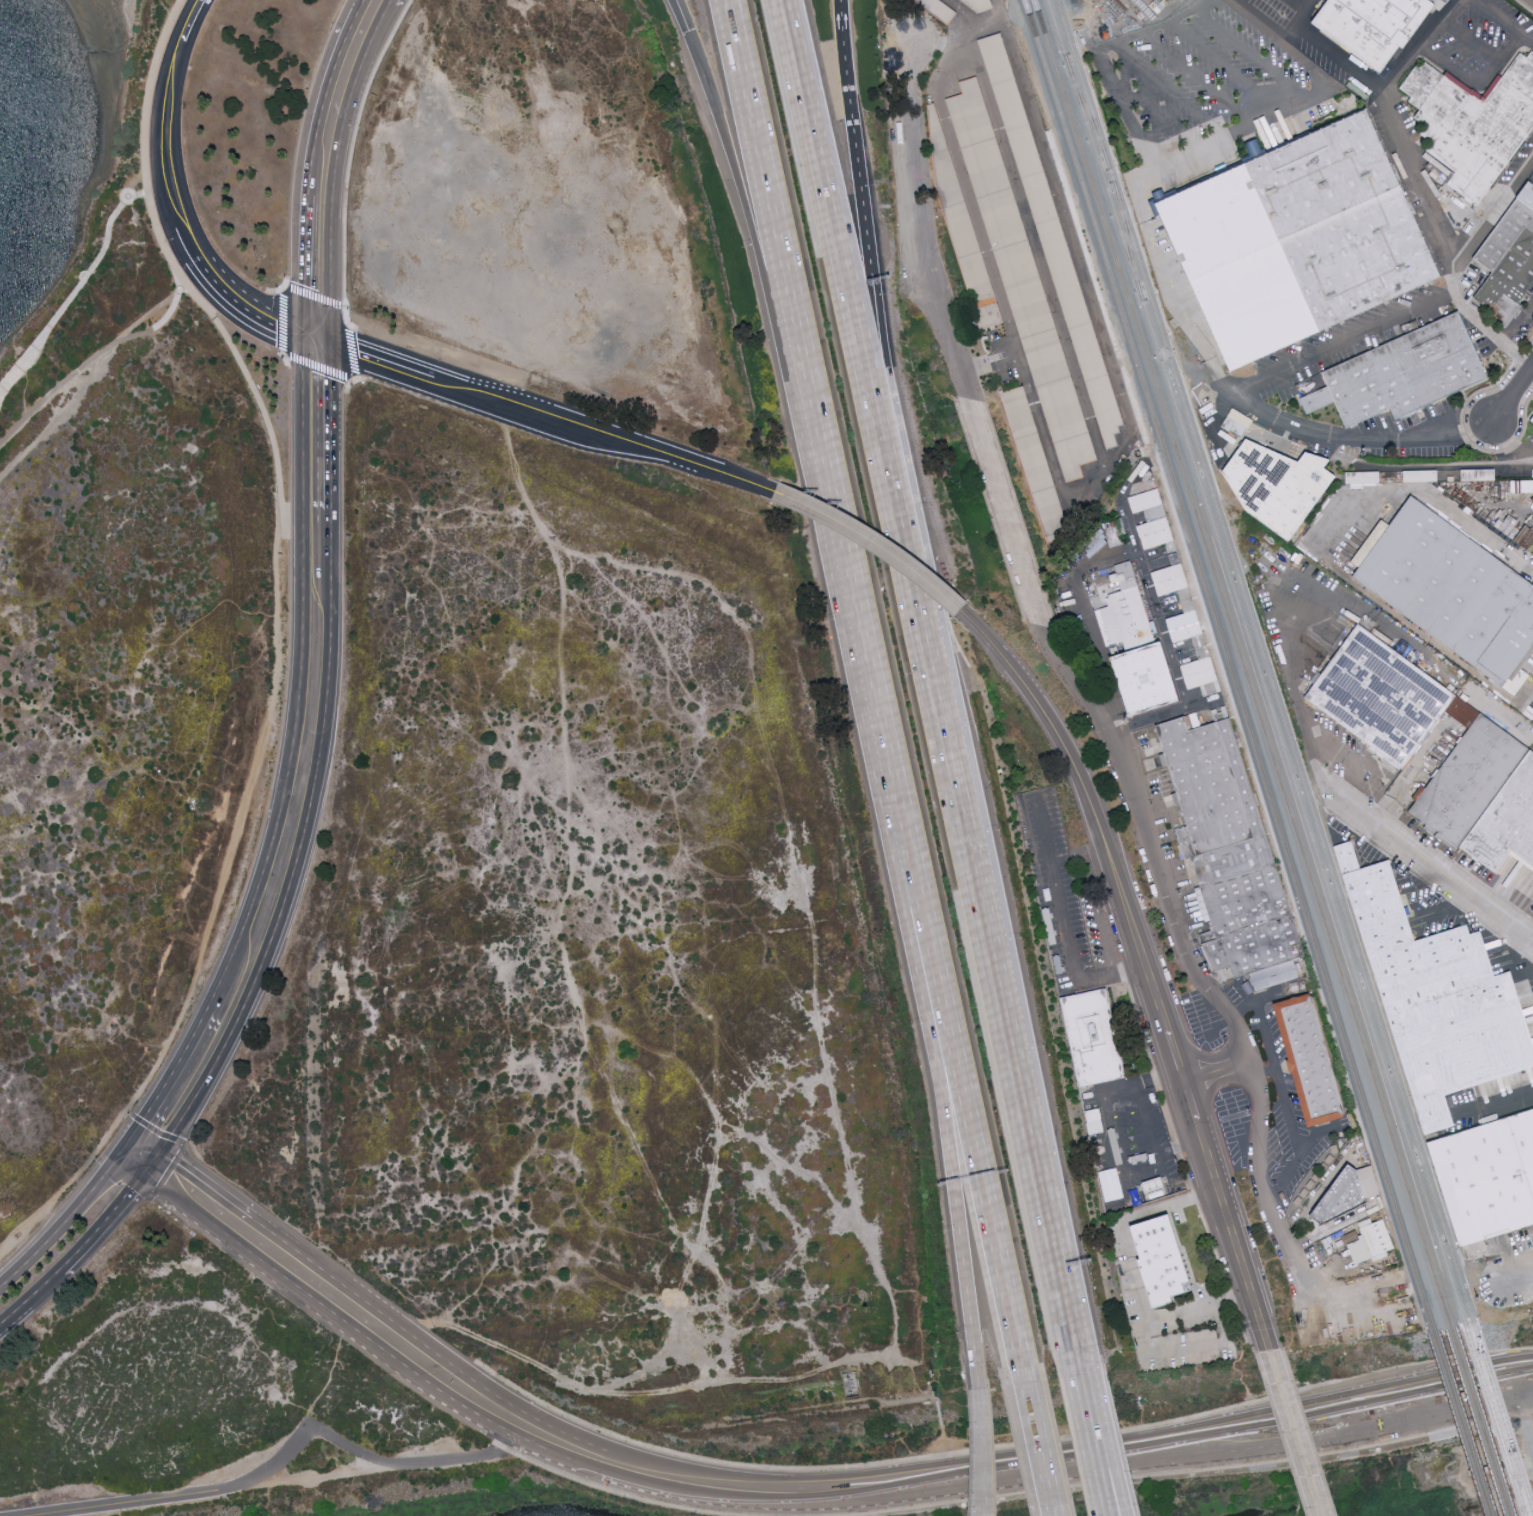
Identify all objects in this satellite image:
road: (1306, 3)
building: (976, 7)
road: (1523, 7)
building: (939, 9)
road: (1001, 11)
road: (1110, 12)
parking lot: (1110, 15)
road: (682, 16)
road: (973, 20)
road: (1500, 23)
road: (1073, 27)
building: (1379, 27)
road: (1154, 28)
road: (1280, 36)
road: (842, 48)
road: (1482, 51)
road: (1252, 56)
road: (1225, 68)
road: (1462, 77)
road: (1198, 78)
road: (1387, 86)
road: (1172, 91)
road: (318, 93)
railway: (1085, 111)
road: (1156, 115)
building: (1475, 127)
road: (1215, 149)
road: (162, 156)
road: (350, 162)
road: (335, 166)
road: (962, 182)
building: (1526, 195)
road: (764, 210)
road: (1493, 215)
road: (751, 225)
building: (962, 227)
railway: (1125, 235)
building: (1054, 240)
building: (1296, 241)
road: (1447, 242)
road: (1036, 251)
building: (1507, 257)
road: (296, 260)
road: (179, 275)
building: (1019, 281)
road: (76, 289)
road: (845, 297)
road: (263, 315)
road: (1517, 325)
traffic signals: (297, 329)
road: (311, 336)
traffic signals: (326, 344)
road: (875, 345)
road: (1344, 345)
road: (91, 358)
road: (379, 363)
building: (1404, 370)
road: (91, 380)
road: (1120, 386)
road: (447, 387)
road: (1513, 397)
road: (1240, 400)
building: (1531, 420)
road: (327, 427)
road: (1513, 436)
road: (618, 439)
building: (1034, 467)
building: (1364, 479)
building: (1277, 484)
road: (1428, 498)
building: (1151, 514)
road: (291, 518)
building: (1120, 537)
road: (872, 543)
road: (1141, 565)
road: (1022, 581)
building: (1452, 589)
road: (852, 619)
road: (1292, 622)
building: (1190, 632)
building: (1138, 652)
railway: (1263, 660)
railway: (1254, 662)
railway: (1241, 664)
railway: (1228, 665)
road: (298, 675)
road: (1292, 676)
road: (1527, 693)
building: (1382, 695)
road: (1078, 772)
road: (1369, 773)
road: (1412, 777)
building: (1473, 787)
building: (1219, 804)
road: (1039, 828)
building: (1508, 831)
road: (301, 848)
road: (1046, 860)
road: (1422, 860)
road: (1450, 910)
road: (209, 923)
building: (1253, 928)
road: (1529, 929)
road: (1127, 968)
building: (1276, 980)
road: (995, 987)
road: (1156, 996)
building: (1439, 1001)
building: (1093, 1038)
road: (1175, 1058)
building: (1315, 1067)
road: (1264, 1071)
road: (1277, 1074)
road: (175, 1075)
road: (957, 1094)
road: (942, 1102)
road: (1497, 1102)
road: (1190, 1103)
road: (1104, 1115)
road: (1247, 1125)
road: (1260, 1125)
road: (1236, 1129)
traffic signals: (134, 1139)
road: (183, 1141)
road: (1177, 1146)
road: (126, 1148)
road: (147, 1148)
traffic signals: (119, 1157)
traffic signals: (161, 1157)
road: (132, 1167)
road: (153, 1167)
traffic signals: (146, 1177)
building: (1489, 1185)
building: (1156, 1187)
building: (1346, 1203)
road: (61, 1221)
road: (107, 1226)
road: (1234, 1236)
building: (1379, 1242)
building: (1159, 1258)
road: (1519, 1276)
road: (32, 1299)
road: (324, 1309)
road: (1143, 1334)
road: (489, 1347)
power substation: (852, 1384)
road: (428, 1398)
railway: (1501, 1418)
railway: (1494, 1420)
railway: (1479, 1422)
railway: (1460, 1424)
road: (1091, 1430)
road: (1297, 1434)
road: (1034, 1444)
road: (981, 1451)
road: (410, 1462)
road: (1179, 1470)
road: (321, 1477)
road: (1017, 1483)
road: (185, 1495)
road: (1105, 1498)
road: (1108, 1498)
road: (980, 1515)
road: (981, 1515)

